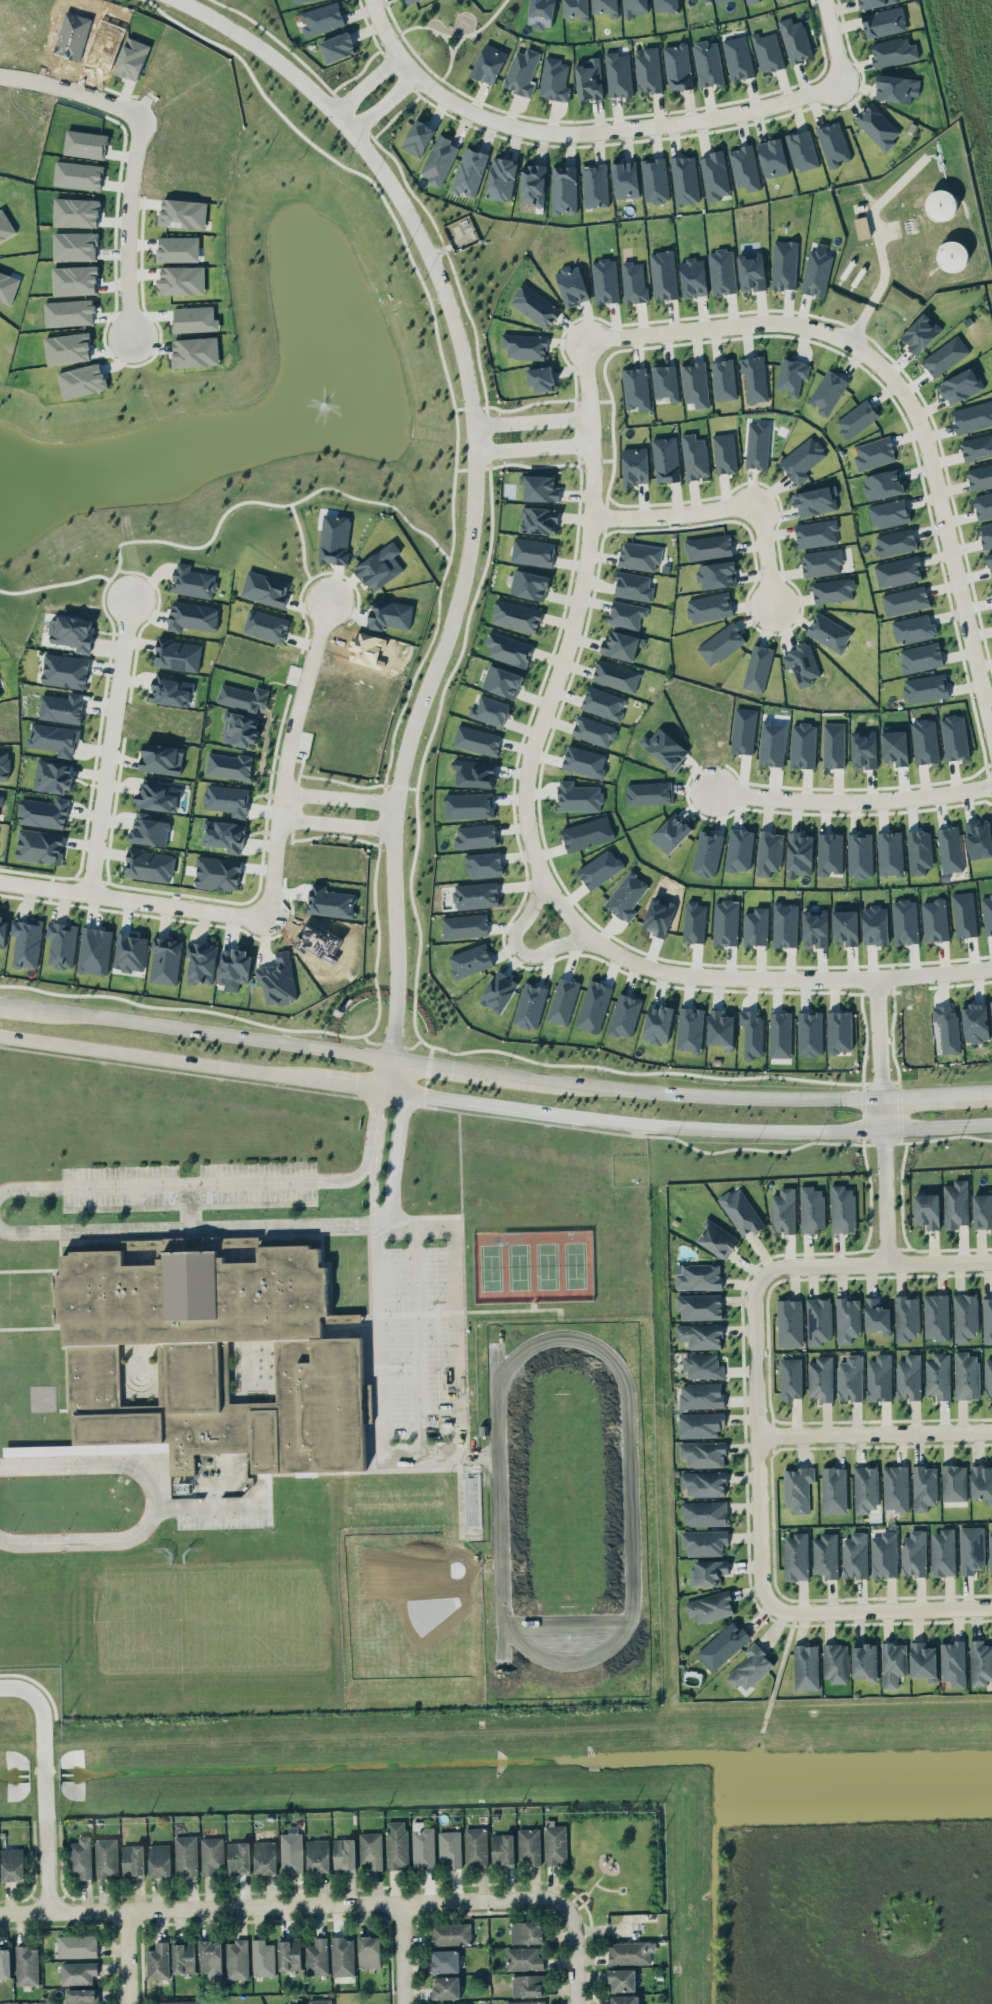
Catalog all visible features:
building: (409, 0)
building: (300, 1)
building: (720, 1)
building: (751, 1)
building: (873, 3)
building: (665, 6)
building: (606, 7)
building: (633, 7)
building: (576, 9)
building: (541, 13)
building: (322, 18)
building: (884, 22)
road: (386, 31)
building: (795, 39)
road: (834, 41)
building: (337, 47)
building: (767, 51)
building: (893, 51)
building: (738, 57)
building: (132, 58)
building: (489, 63)
building: (707, 63)
building: (677, 66)
building: (648, 70)
building: (522, 71)
building: (618, 74)
building: (554, 79)
building: (589, 79)
road: (368, 82)
building: (896, 88)
road: (387, 103)
building: (877, 126)
road: (616, 129)
building: (418, 137)
building: (85, 143)
building: (833, 144)
building: (802, 150)
building: (772, 157)
building: (439, 160)
road: (125, 163)
building: (744, 167)
building: (470, 172)
building: (78, 175)
building: (714, 175)
building: (502, 178)
building: (625, 179)
building: (654, 180)
building: (684, 180)
building: (533, 184)
building: (595, 185)
building: (564, 189)
building: (941, 204)
building: (182, 212)
building: (5, 227)
building: (862, 227)
building: (178, 248)
building: (953, 256)
building: (784, 264)
building: (722, 271)
building: (752, 271)
building: (816, 273)
building: (663, 274)
road: (885, 276)
building: (693, 277)
building: (605, 280)
building: (634, 282)
building: (572, 285)
building: (535, 305)
road: (707, 324)
building: (920, 333)
building: (524, 345)
building: (195, 351)
building: (945, 355)
building: (792, 375)
building: (541, 378)
building: (723, 379)
building: (754, 379)
building: (82, 380)
building: (665, 382)
building: (695, 384)
building: (961, 385)
building: (636, 388)
building: (827, 392)
fountain: (321, 409)
road: (536, 414)
building: (972, 416)
building: (856, 418)
road: (538, 442)
building: (757, 444)
building: (976, 447)
building: (724, 452)
building: (874, 453)
building: (694, 456)
building: (665, 459)
building: (802, 459)
building: (635, 465)
building: (980, 477)
building: (882, 484)
building: (540, 488)
road: (479, 494)
building: (816, 500)
road: (941, 500)
building: (983, 506)
building: (888, 512)
road: (671, 513)
building: (539, 520)
building: (816, 533)
building: (986, 534)
building: (334, 538)
road: (591, 541)
building: (895, 542)
building: (708, 547)
building: (533, 552)
building: (640, 555)
road: (756, 555)
building: (821, 562)
building: (990, 562)
building: (380, 566)
building: (898, 571)
building: (716, 574)
building: (192, 581)
building: (991, 582)
building: (529, 584)
building: (633, 586)
building: (265, 588)
building: (833, 590)
building: (905, 600)
building: (709, 607)
building: (389, 614)
building: (626, 614)
building: (516, 615)
building: (193, 616)
building: (266, 625)
building: (914, 628)
building: (72, 632)
building: (829, 632)
building: (721, 643)
building: (621, 645)
building: (508, 649)
building: (177, 654)
building: (920, 657)
building: (802, 663)
building: (758, 668)
building: (65, 670)
building: (616, 675)
building: (502, 681)
building: (926, 688)
building: (170, 689)
building: (243, 697)
building: (603, 703)
building: (62, 707)
building: (490, 710)
building: (240, 729)
building: (594, 730)
building: (743, 730)
road: (986, 731)
building: (954, 737)
building: (55, 738)
road: (115, 739)
building: (477, 740)
building: (925, 741)
building: (772, 743)
building: (802, 745)
building: (833, 745)
building: (665, 747)
building: (895, 747)
building: (864, 749)
road: (290, 751)
building: (162, 758)
building: (584, 761)
building: (4, 764)
building: (228, 765)
building: (52, 776)
building: (649, 793)
building: (157, 794)
road: (341, 794)
building: (578, 797)
building: (0, 798)
building: (227, 799)
road: (848, 801)
building: (468, 805)
building: (43, 812)
road: (338, 822)
building: (149, 829)
building: (671, 833)
building: (224, 835)
building: (475, 836)
building: (40, 846)
building: (739, 849)
building: (950, 849)
building: (919, 851)
building: (769, 852)
building: (829, 853)
building: (890, 853)
building: (707, 854)
building: (799, 854)
building: (860, 855)
building: (484, 864)
building: (149, 865)
building: (600, 868)
building: (218, 872)
building: (476, 895)
road: (136, 896)
building: (627, 896)
building: (987, 912)
building: (964, 914)
building: (935, 920)
building: (694, 921)
building: (904, 921)
building: (726, 922)
building: (785, 924)
building: (875, 924)
building: (465, 925)
building: (845, 925)
building: (756, 926)
building: (815, 928)
building: (2, 931)
building: (26, 942)
building: (61, 943)
road: (518, 946)
building: (94, 950)
building: (130, 952)
building: (165, 960)
building: (470, 960)
building: (201, 962)
building: (234, 965)
road: (670, 975)
building: (278, 979)
building: (563, 1001)
building: (991, 1003)
road: (17, 1005)
building: (530, 1005)
building: (594, 1006)
building: (625, 1015)
building: (975, 1022)
building: (658, 1023)
building: (947, 1027)
building: (720, 1028)
building: (690, 1029)
building: (839, 1031)
road: (215, 1033)
building: (752, 1033)
building: (810, 1033)
building: (780, 1034)
road: (870, 1037)
road: (160, 1058)
road: (473, 1070)
road: (356, 1086)
road: (973, 1092)
road: (914, 1095)
road: (711, 1096)
road: (691, 1126)
road: (394, 1157)
road: (876, 1178)
road: (227, 1184)
road: (374, 1191)
building: (956, 1204)
building: (811, 1209)
building: (842, 1209)
building: (783, 1210)
building: (927, 1210)
building: (982, 1210)
building: (741, 1211)
road: (414, 1223)
road: (186, 1229)
building: (717, 1238)
road: (876, 1261)
park: (533, 1264)
building: (699, 1277)
building: (700, 1306)
building: (876, 1316)
building: (936, 1316)
building: (965, 1316)
building: (906, 1318)
building: (847, 1319)
building: (987, 1319)
building: (818, 1320)
building: (789, 1322)
building: (701, 1335)
road: (417, 1339)
building: (211, 1355)
building: (703, 1366)
building: (966, 1375)
building: (938, 1376)
building: (908, 1377)
building: (988, 1377)
building: (790, 1378)
building: (820, 1378)
building: (849, 1378)
building: (879, 1378)
building: (701, 1395)
building: (700, 1424)
road: (874, 1430)
road: (756, 1435)
building: (703, 1453)
road: (421, 1454)
building: (954, 1482)
building: (981, 1482)
building: (704, 1483)
building: (895, 1487)
building: (924, 1487)
building: (798, 1488)
building: (865, 1488)
building: (834, 1490)
road: (155, 1502)
road: (220, 1507)
building: (705, 1513)
building: (704, 1542)
building: (971, 1549)
building: (942, 1552)
building: (990, 1552)
building: (913, 1553)
building: (826, 1555)
building: (855, 1555)
building: (883, 1555)
building: (796, 1556)
building: (708, 1572)
building: (710, 1606)
road: (876, 1610)
building: (723, 1645)
building: (865, 1661)
building: (923, 1661)
building: (835, 1662)
building: (953, 1662)
building: (980, 1662)
building: (893, 1663)
building: (750, 1667)
building: (806, 1667)
road: (39, 1710)
road: (41, 1775)
road: (44, 1804)
building: (555, 1842)
building: (396, 1844)
building: (423, 1846)
building: (529, 1846)
building: (476, 1847)
building: (450, 1848)
building: (371, 1849)
building: (503, 1849)
building: (291, 1850)
building: (211, 1854)
building: (344, 1854)
building: (185, 1855)
building: (317, 1855)
building: (80, 1857)
building: (106, 1857)
building: (239, 1857)
building: (265, 1857)
park: (618, 1857)
building: (133, 1860)
building: (159, 1860)
building: (12, 1864)
road: (47, 1864)
road: (594, 1882)
road: (606, 1888)
road: (587, 1893)
road: (286, 1904)
building: (526, 1932)
building: (451, 1933)
building: (77, 1946)
building: (369, 1951)
road: (403, 1953)
building: (628, 1953)
building: (289, 1954)
road: (576, 1955)
road: (127, 1956)
building: (316, 1956)
building: (342, 1956)
building: (183, 1957)
building: (262, 1957)
building: (211, 1958)
building: (237, 1959)
building: (524, 1959)
building: (445, 1960)
building: (158, 1961)
building: (5, 1962)
building: (27, 1965)
building: (78, 1972)
building: (622, 1979)
building: (528, 1985)
building: (446, 1987)
building: (82, 1996)
building: (625, 1999)
building: (320, 2001)
building: (178, 2002)
building: (525, 2002)
building: (300, 2003)
building: (454, 2003)

